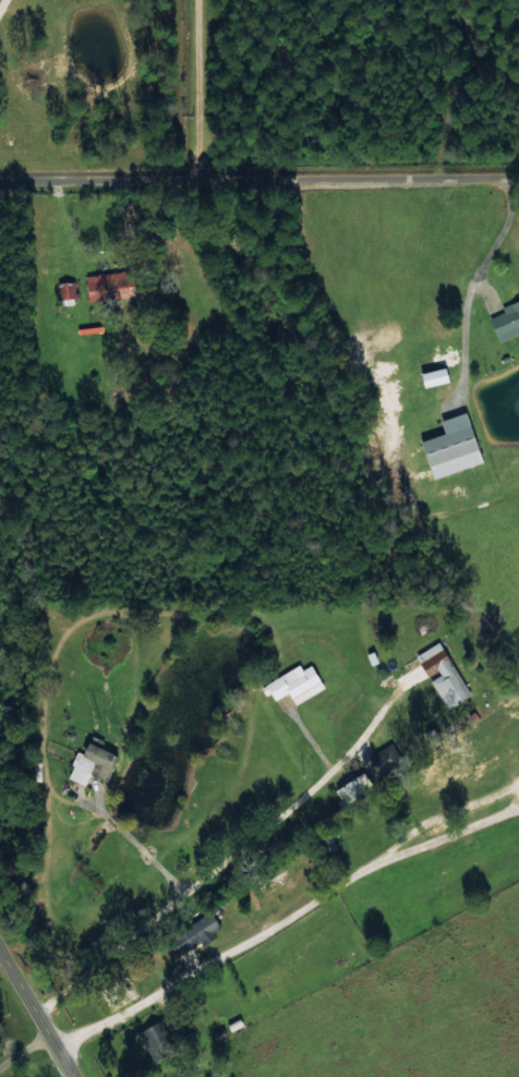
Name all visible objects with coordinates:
road: (171, 105)
road: (259, 206)
building: (105, 285)
building: (67, 290)
building: (506, 322)
building: (434, 377)
building: (451, 446)
building: (442, 674)
building: (294, 683)
road: (264, 687)
building: (382, 760)
building: (90, 762)
building: (276, 882)
road: (285, 920)
building: (194, 933)
road: (33, 1019)
building: (154, 1038)
building: (222, 1076)

